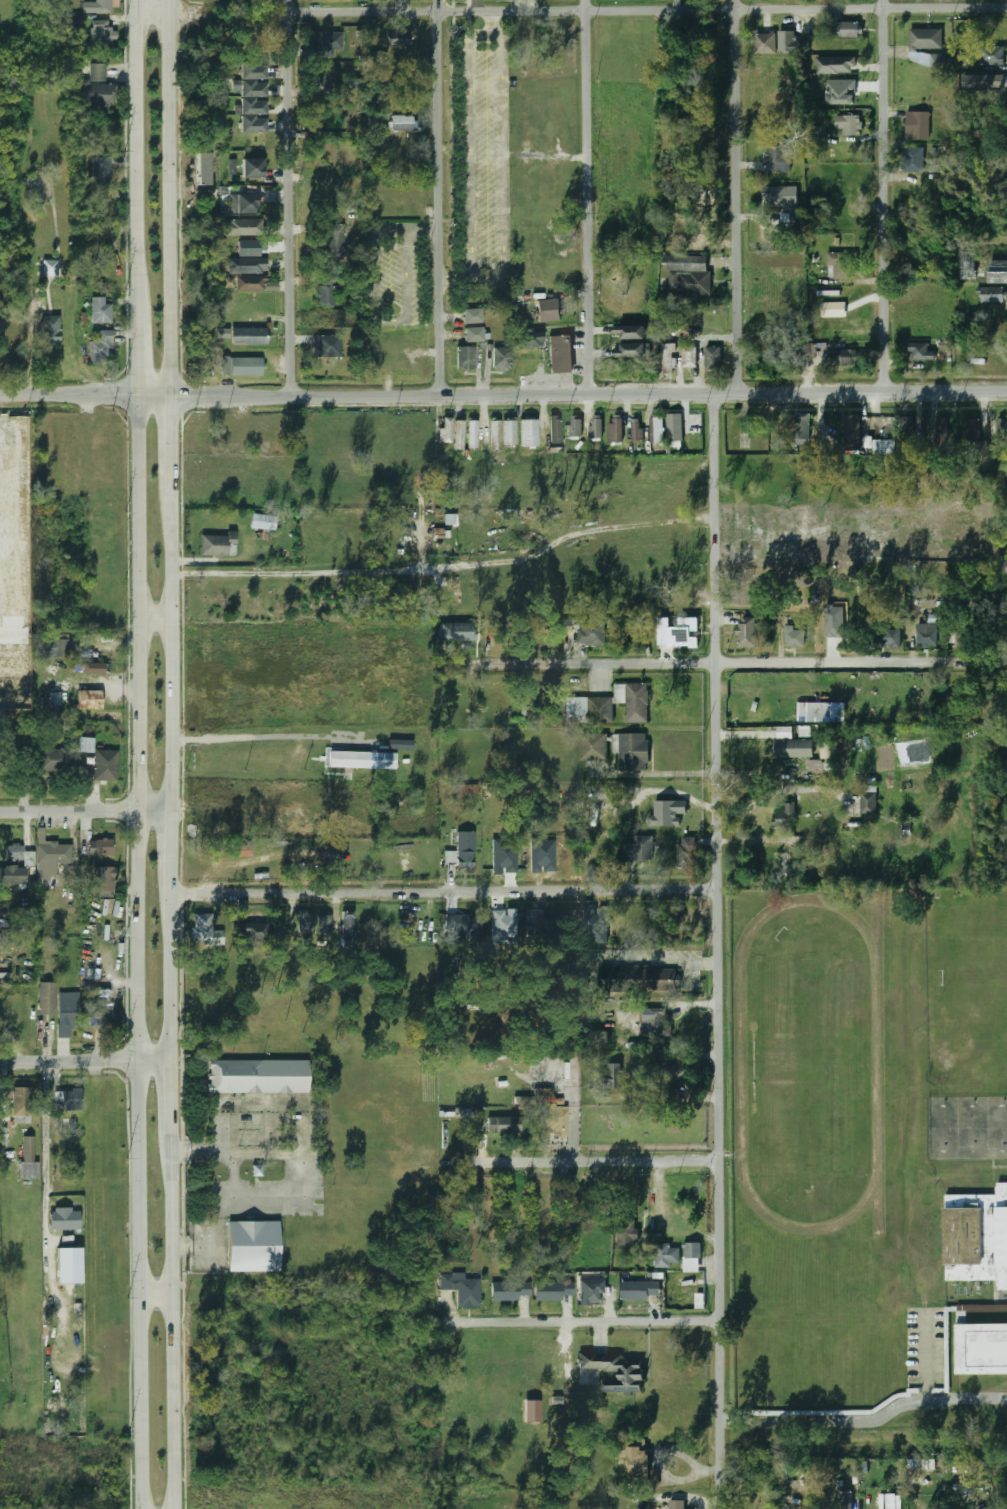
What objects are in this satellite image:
road: (520, 4)
building: (102, 6)
road: (287, 6)
road: (150, 8)
road: (646, 9)
building: (845, 30)
building: (101, 32)
building: (396, 38)
building: (924, 39)
building: (786, 42)
building: (324, 43)
building: (764, 43)
building: (991, 55)
building: (836, 65)
building: (252, 70)
building: (984, 81)
building: (252, 88)
building: (94, 91)
building: (840, 92)
building: (252, 106)
building: (325, 120)
building: (376, 121)
building: (400, 122)
building: (252, 124)
building: (848, 124)
building: (916, 125)
road: (134, 129)
building: (777, 158)
building: (912, 160)
building: (252, 168)
building: (99, 170)
road: (167, 196)
road: (740, 196)
building: (779, 196)
road: (884, 196)
road: (586, 197)
road: (437, 198)
building: (243, 203)
road: (290, 205)
building: (100, 209)
building: (241, 227)
road: (422, 231)
building: (334, 241)
building: (251, 248)
building: (675, 263)
building: (246, 266)
building: (838, 266)
building: (49, 268)
building: (998, 271)
building: (229, 281)
building: (695, 283)
building: (249, 284)
building: (325, 293)
building: (991, 294)
building: (834, 309)
building: (548, 310)
building: (99, 311)
building: (471, 316)
road: (378, 318)
road: (135, 327)
building: (1, 331)
building: (49, 332)
building: (631, 332)
building: (223, 333)
building: (473, 334)
building: (248, 336)
building: (531, 342)
building: (327, 346)
building: (99, 349)
road: (32, 350)
building: (628, 350)
building: (920, 351)
building: (560, 353)
building: (689, 356)
building: (464, 357)
building: (844, 357)
building: (500, 358)
building: (668, 358)
building: (712, 358)
building: (243, 366)
road: (862, 394)
road: (358, 397)
building: (574, 425)
building: (595, 426)
building: (673, 426)
building: (636, 429)
building: (445, 430)
building: (554, 430)
building: (615, 430)
building: (654, 430)
building: (852, 430)
building: (971, 430)
building: (800, 431)
building: (940, 431)
building: (1001, 432)
building: (508, 433)
building: (905, 433)
building: (458, 434)
building: (472, 434)
building: (528, 434)
building: (494, 435)
building: (884, 447)
road: (169, 465)
building: (261, 522)
building: (216, 545)
road: (509, 557)
road: (232, 574)
road: (151, 619)
building: (565, 624)
building: (457, 631)
building: (746, 631)
building: (679, 633)
building: (591, 634)
building: (836, 634)
building: (792, 636)
building: (926, 637)
building: (885, 638)
building: (61, 648)
road: (717, 662)
building: (93, 668)
road: (169, 673)
building: (54, 699)
building: (88, 700)
building: (632, 700)
building: (587, 710)
building: (820, 712)
building: (948, 713)
road: (251, 732)
building: (85, 744)
building: (400, 744)
building: (797, 745)
building: (593, 747)
building: (632, 752)
building: (362, 759)
building: (51, 760)
building: (104, 766)
building: (461, 789)
building: (867, 799)
road: (85, 811)
building: (668, 813)
building: (785, 816)
building: (99, 847)
building: (638, 850)
building: (50, 851)
building: (463, 851)
building: (13, 852)
road: (169, 852)
building: (685, 852)
building: (504, 858)
building: (29, 859)
building: (12, 876)
building: (103, 881)
road: (444, 891)
building: (305, 921)
building: (461, 923)
building: (346, 924)
building: (323, 926)
building: (503, 926)
building: (205, 931)
building: (256, 933)
road: (138, 951)
road: (720, 951)
road: (171, 974)
building: (637, 978)
building: (45, 998)
building: (26, 1018)
building: (65, 1019)
building: (656, 1022)
building: (598, 1037)
road: (87, 1056)
building: (670, 1070)
building: (615, 1075)
building: (257, 1077)
building: (70, 1099)
building: (21, 1104)
building: (549, 1109)
road: (174, 1116)
road: (574, 1122)
building: (503, 1125)
building: (28, 1160)
road: (585, 1162)
road: (47, 1169)
building: (64, 1219)
building: (626, 1236)
building: (976, 1236)
building: (253, 1246)
building: (666, 1255)
building: (691, 1257)
road: (159, 1288)
building: (464, 1290)
building: (509, 1290)
building: (553, 1290)
building: (639, 1290)
building: (591, 1291)
road: (552, 1316)
road: (178, 1343)
building: (981, 1348)
building: (611, 1372)
road: (866, 1418)
building: (637, 1464)
building: (843, 1500)
building: (894, 1501)
building: (675, 1505)

